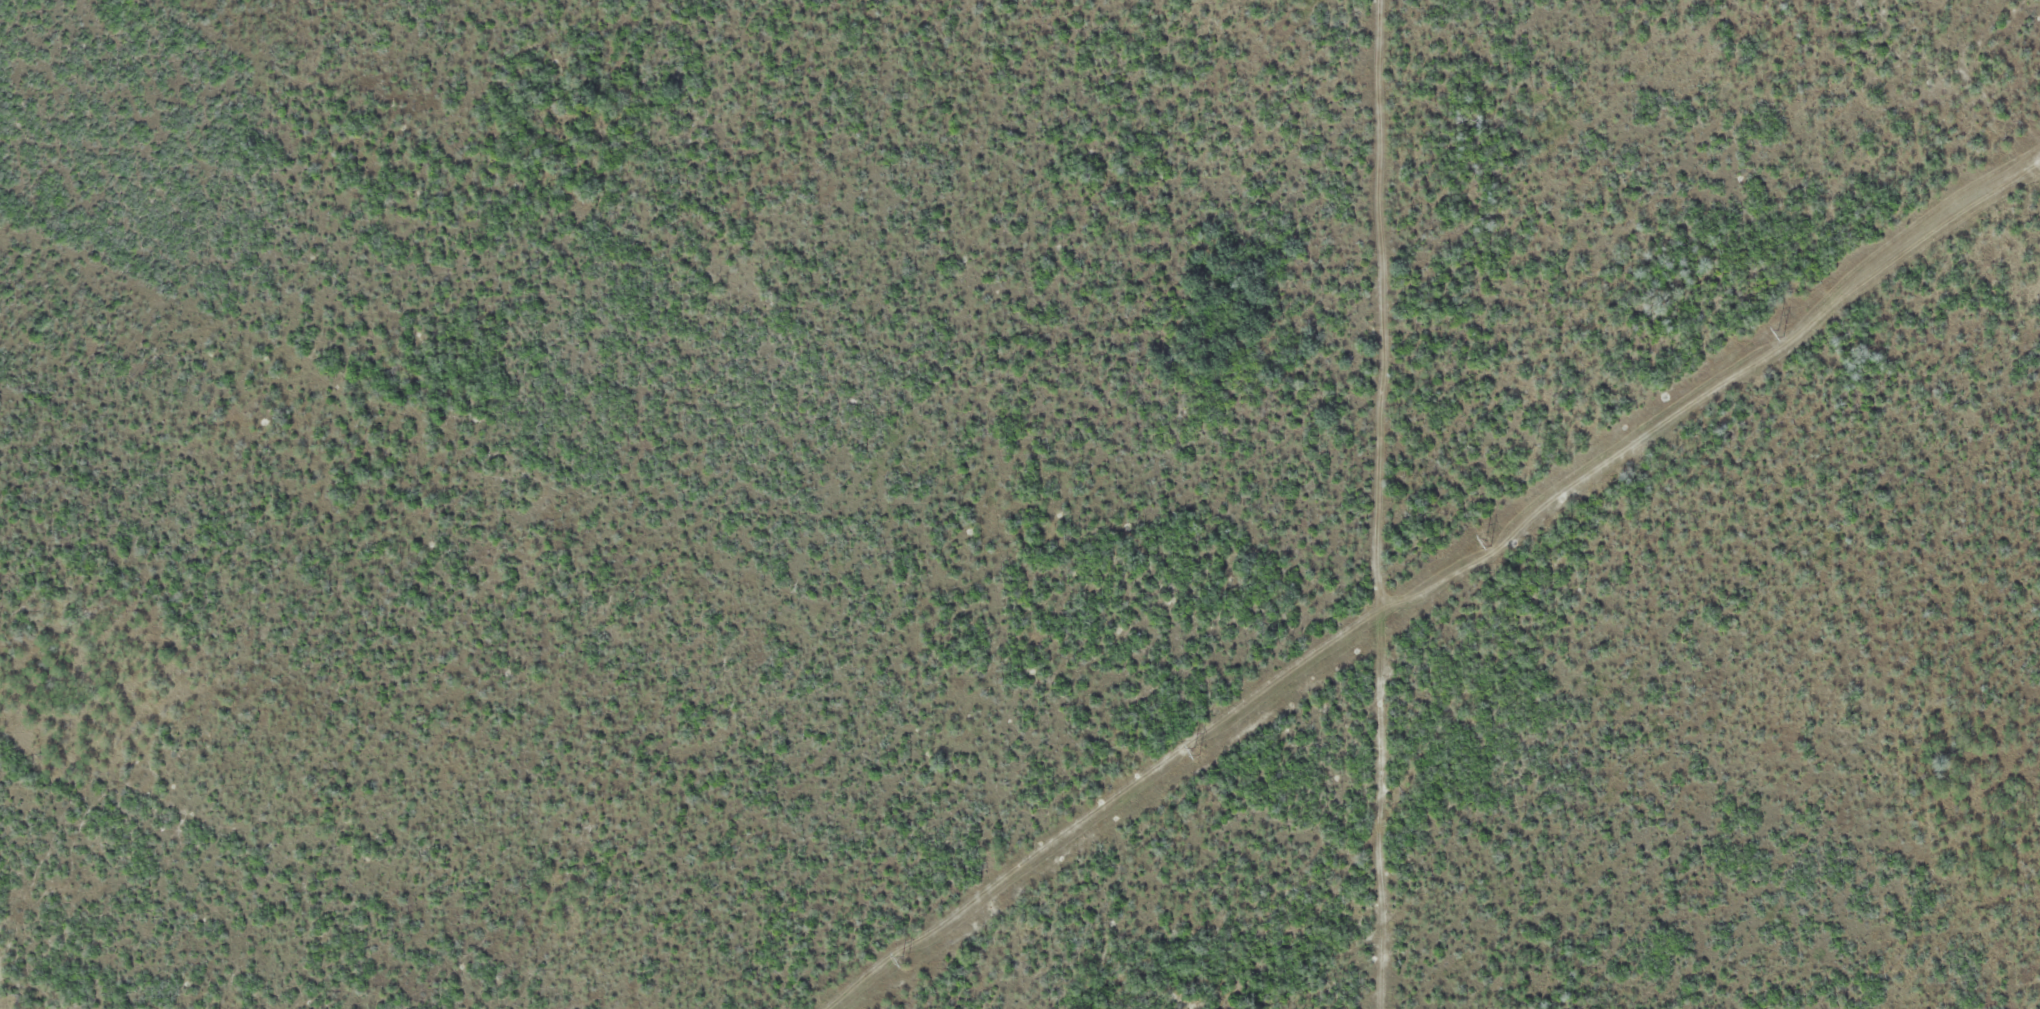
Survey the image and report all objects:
power tower: (1782, 332)
power tower: (1490, 541)
power tower: (1198, 751)
power tower: (906, 959)

